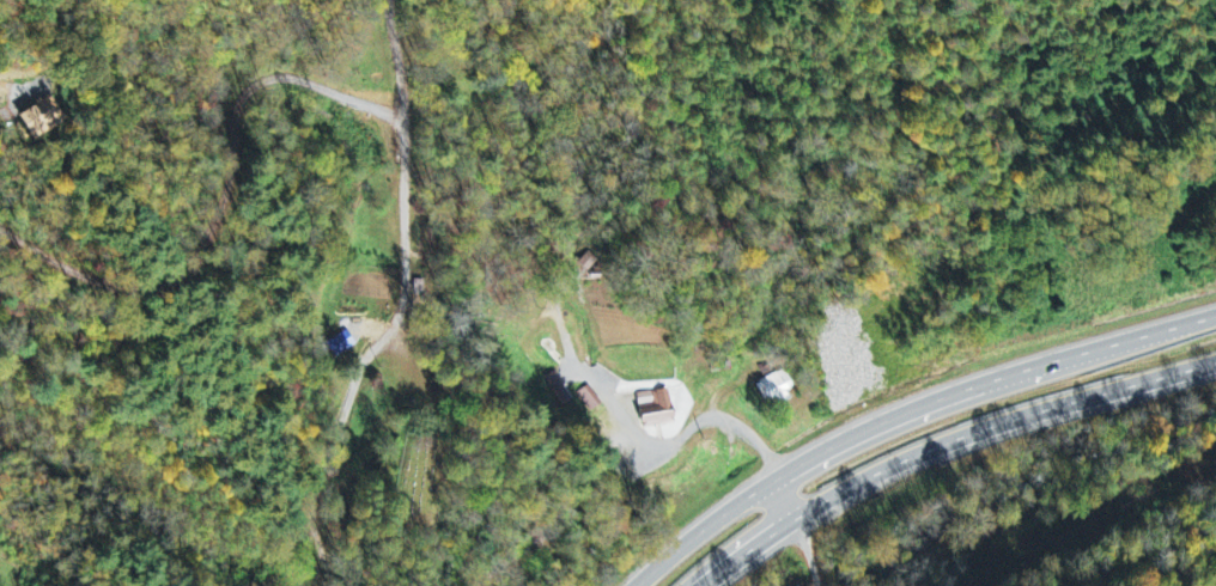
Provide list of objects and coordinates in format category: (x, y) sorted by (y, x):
building: (37, 117)
road: (401, 303)
building: (774, 386)
road: (908, 411)
road: (950, 437)
road: (645, 442)
road: (803, 542)
road: (1114, 568)
road: (813, 575)

